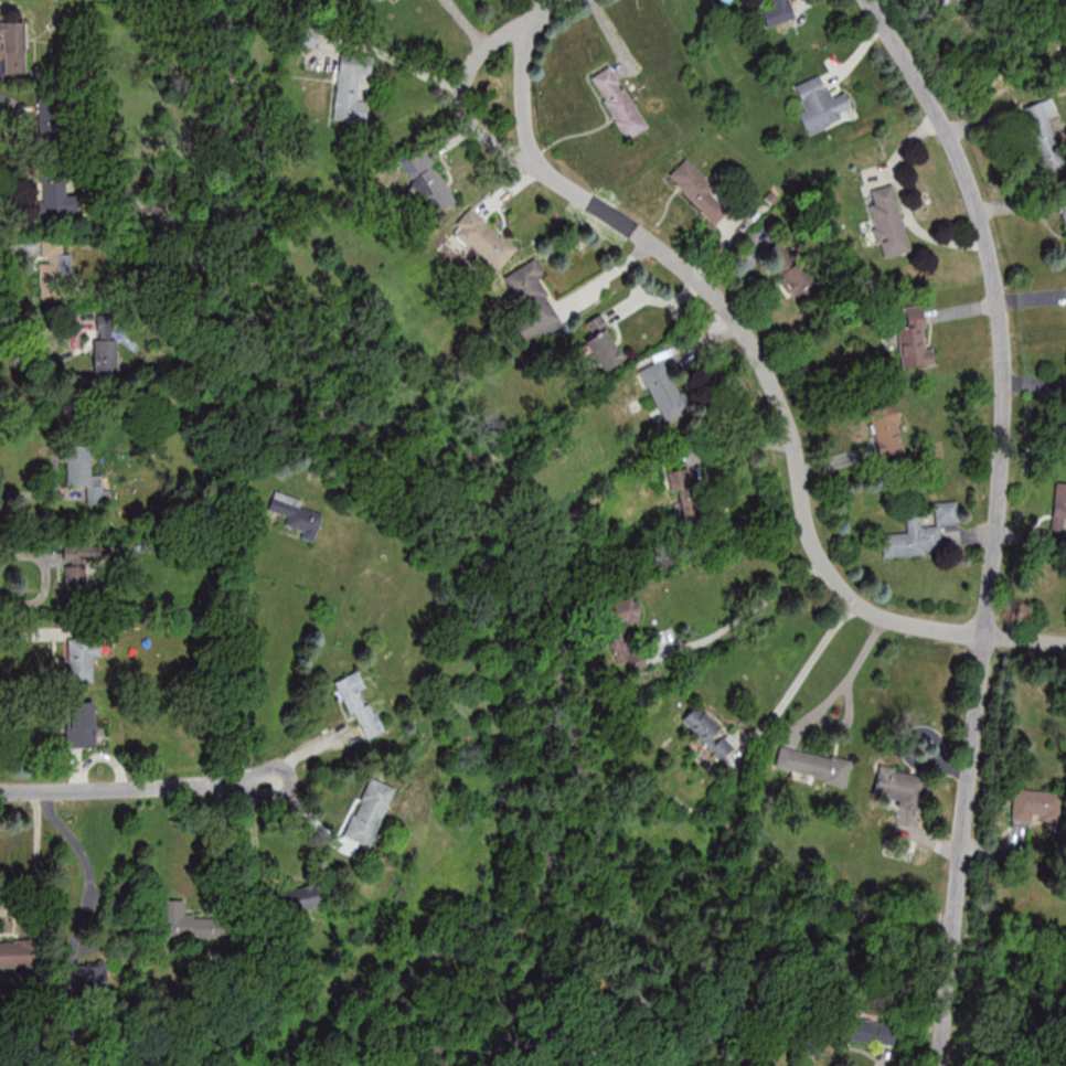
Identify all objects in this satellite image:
building: (778, 11)
building: (12, 46)
road: (394, 60)
building: (350, 92)
road: (465, 93)
building: (618, 102)
building: (818, 103)
building: (49, 116)
building: (1044, 131)
building: (428, 180)
building: (700, 190)
building: (57, 196)
building: (1064, 210)
building: (887, 221)
building: (483, 237)
building: (53, 271)
building: (532, 301)
building: (914, 337)
building: (601, 342)
building: (104, 356)
road: (756, 361)
building: (663, 390)
building: (886, 429)
building: (79, 463)
building: (687, 492)
building: (295, 514)
building: (1057, 515)
road: (998, 519)
building: (919, 533)
building: (76, 574)
road: (45, 577)
building: (623, 610)
road: (750, 616)
road: (247, 650)
building: (82, 657)
road: (804, 675)
road: (828, 697)
building: (359, 705)
building: (81, 724)
building: (707, 729)
building: (812, 764)
road: (140, 786)
building: (900, 788)
building: (1035, 803)
building: (366, 817)
road: (252, 842)
road: (38, 861)
river: (607, 861)
road: (92, 876)
building: (300, 898)
building: (188, 914)
river: (953, 936)
building: (18, 956)
river: (1019, 972)
building: (89, 974)
building: (866, 1031)
building: (1016, 1035)
road: (708, 1046)

